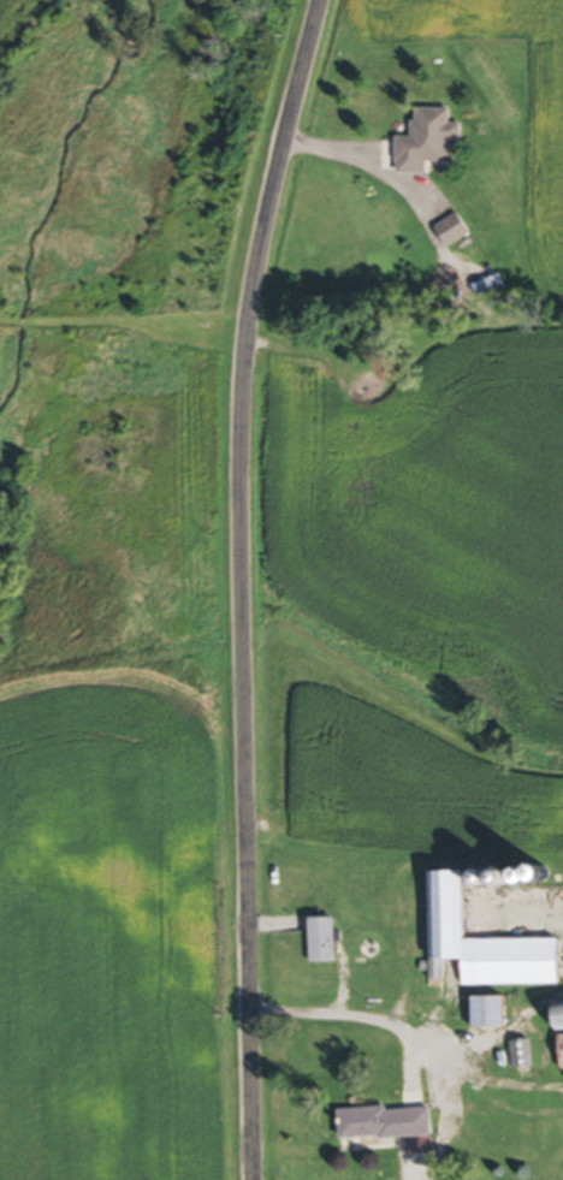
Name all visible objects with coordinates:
building: (429, 144)
road: (361, 165)
building: (455, 233)
road: (243, 585)
building: (327, 943)
building: (488, 947)
building: (493, 1015)
building: (559, 1019)
road: (409, 1033)
building: (525, 1057)
building: (396, 1128)
building: (510, 1134)

